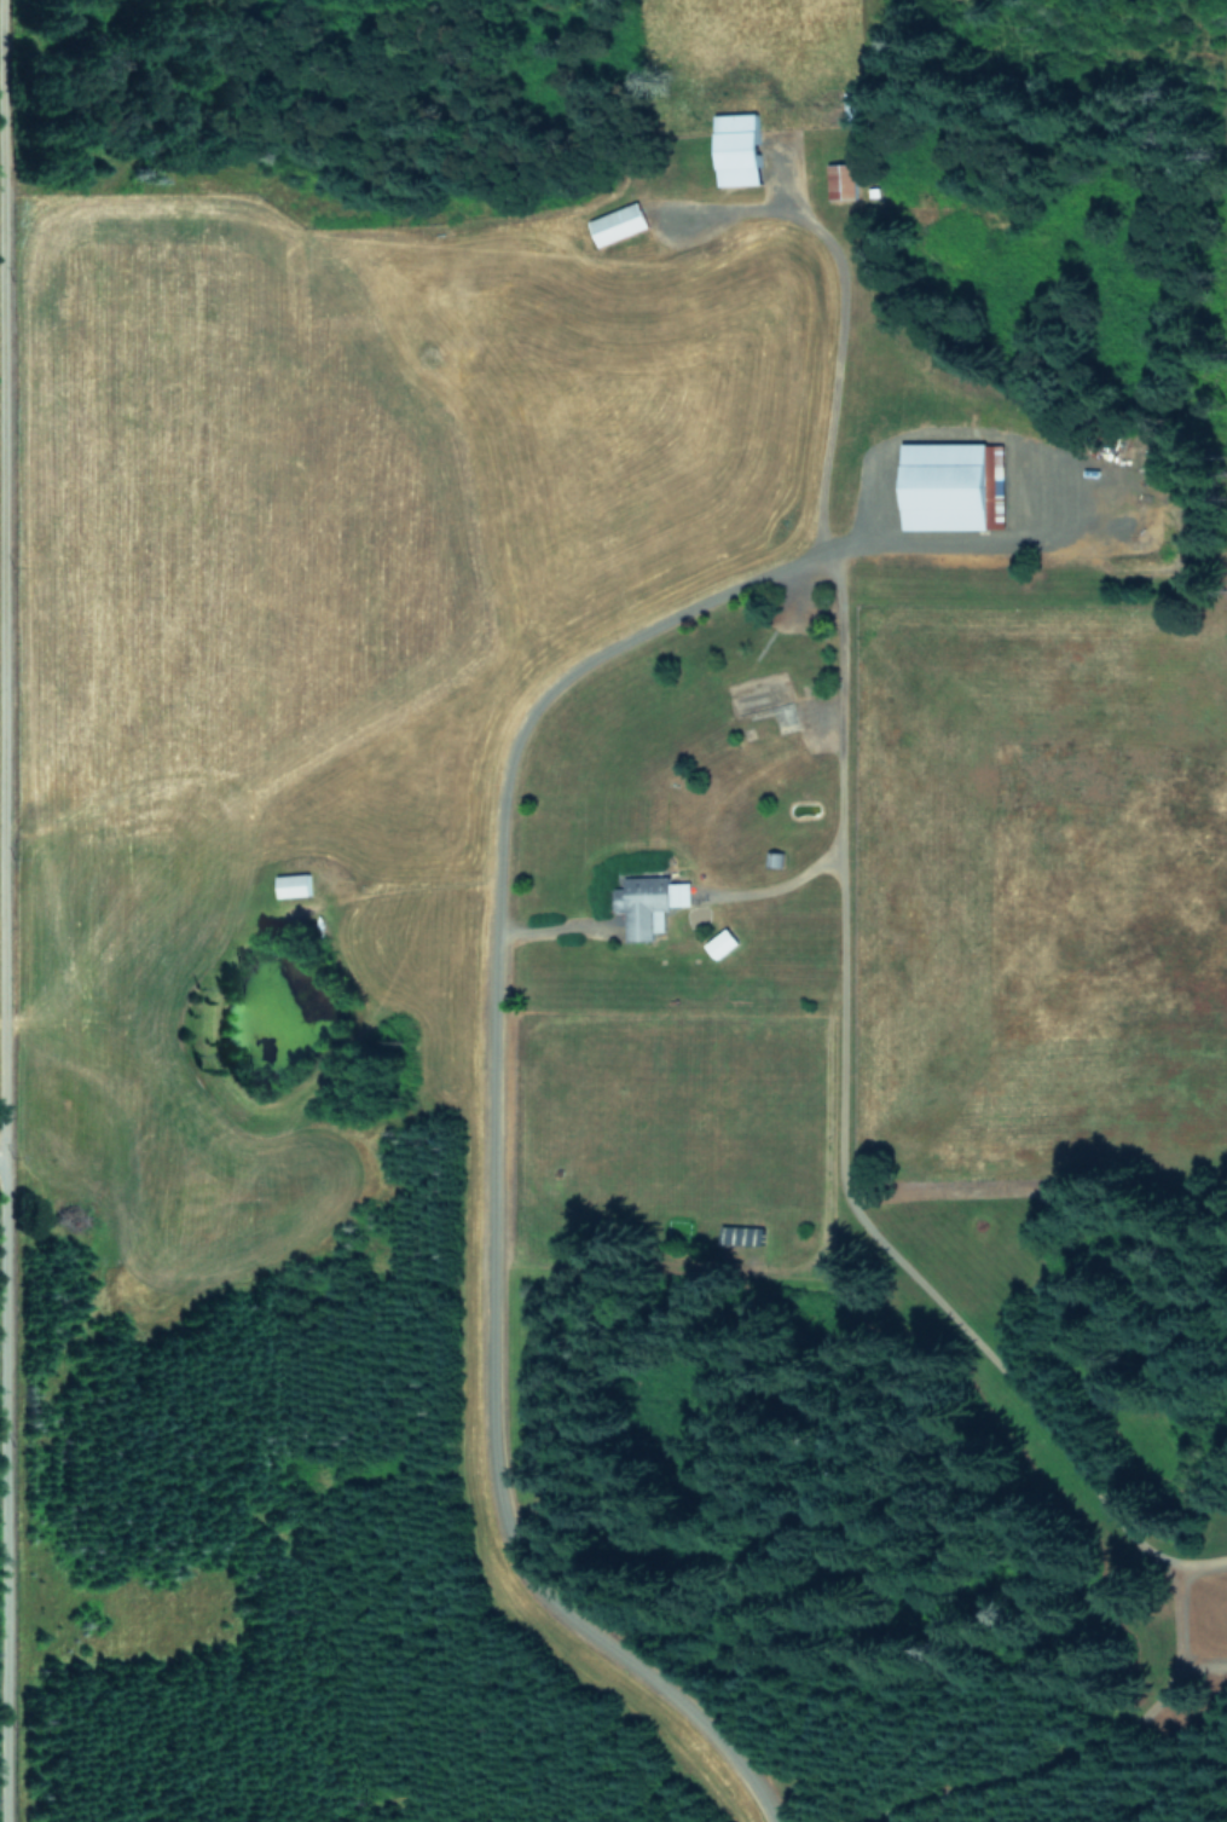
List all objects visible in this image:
building: (734, 148)
building: (839, 179)
building: (615, 222)
building: (942, 485)
road: (4, 520)
crop: (635, 705)
building: (290, 884)
building: (647, 902)
building: (742, 1233)
road: (18, 1604)

